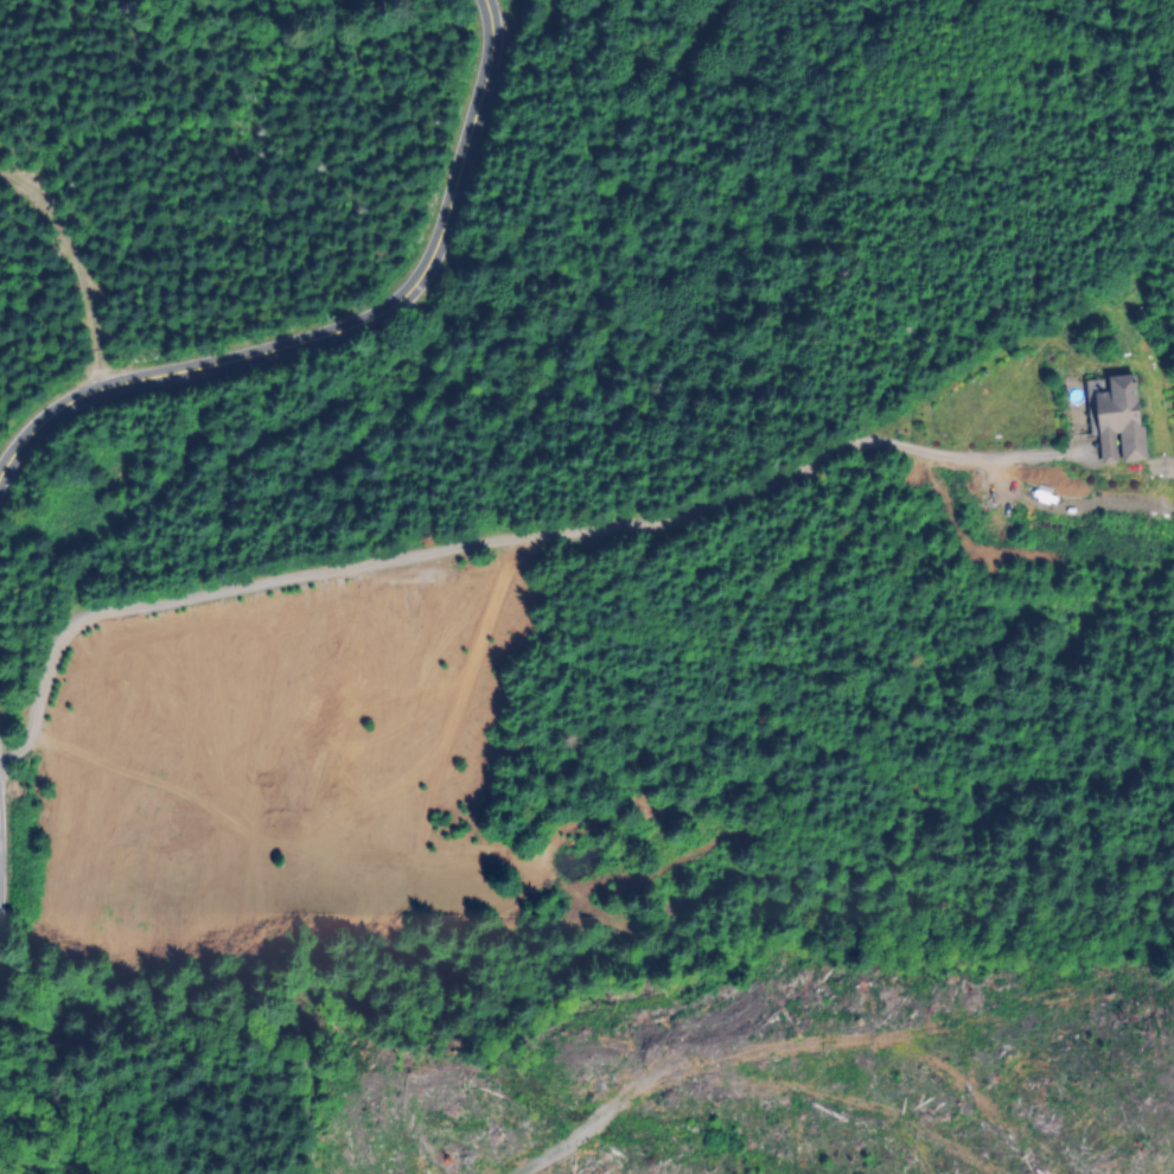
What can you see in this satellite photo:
road: (376, 310)
building: (1122, 419)
road: (21, 444)
road: (502, 538)

